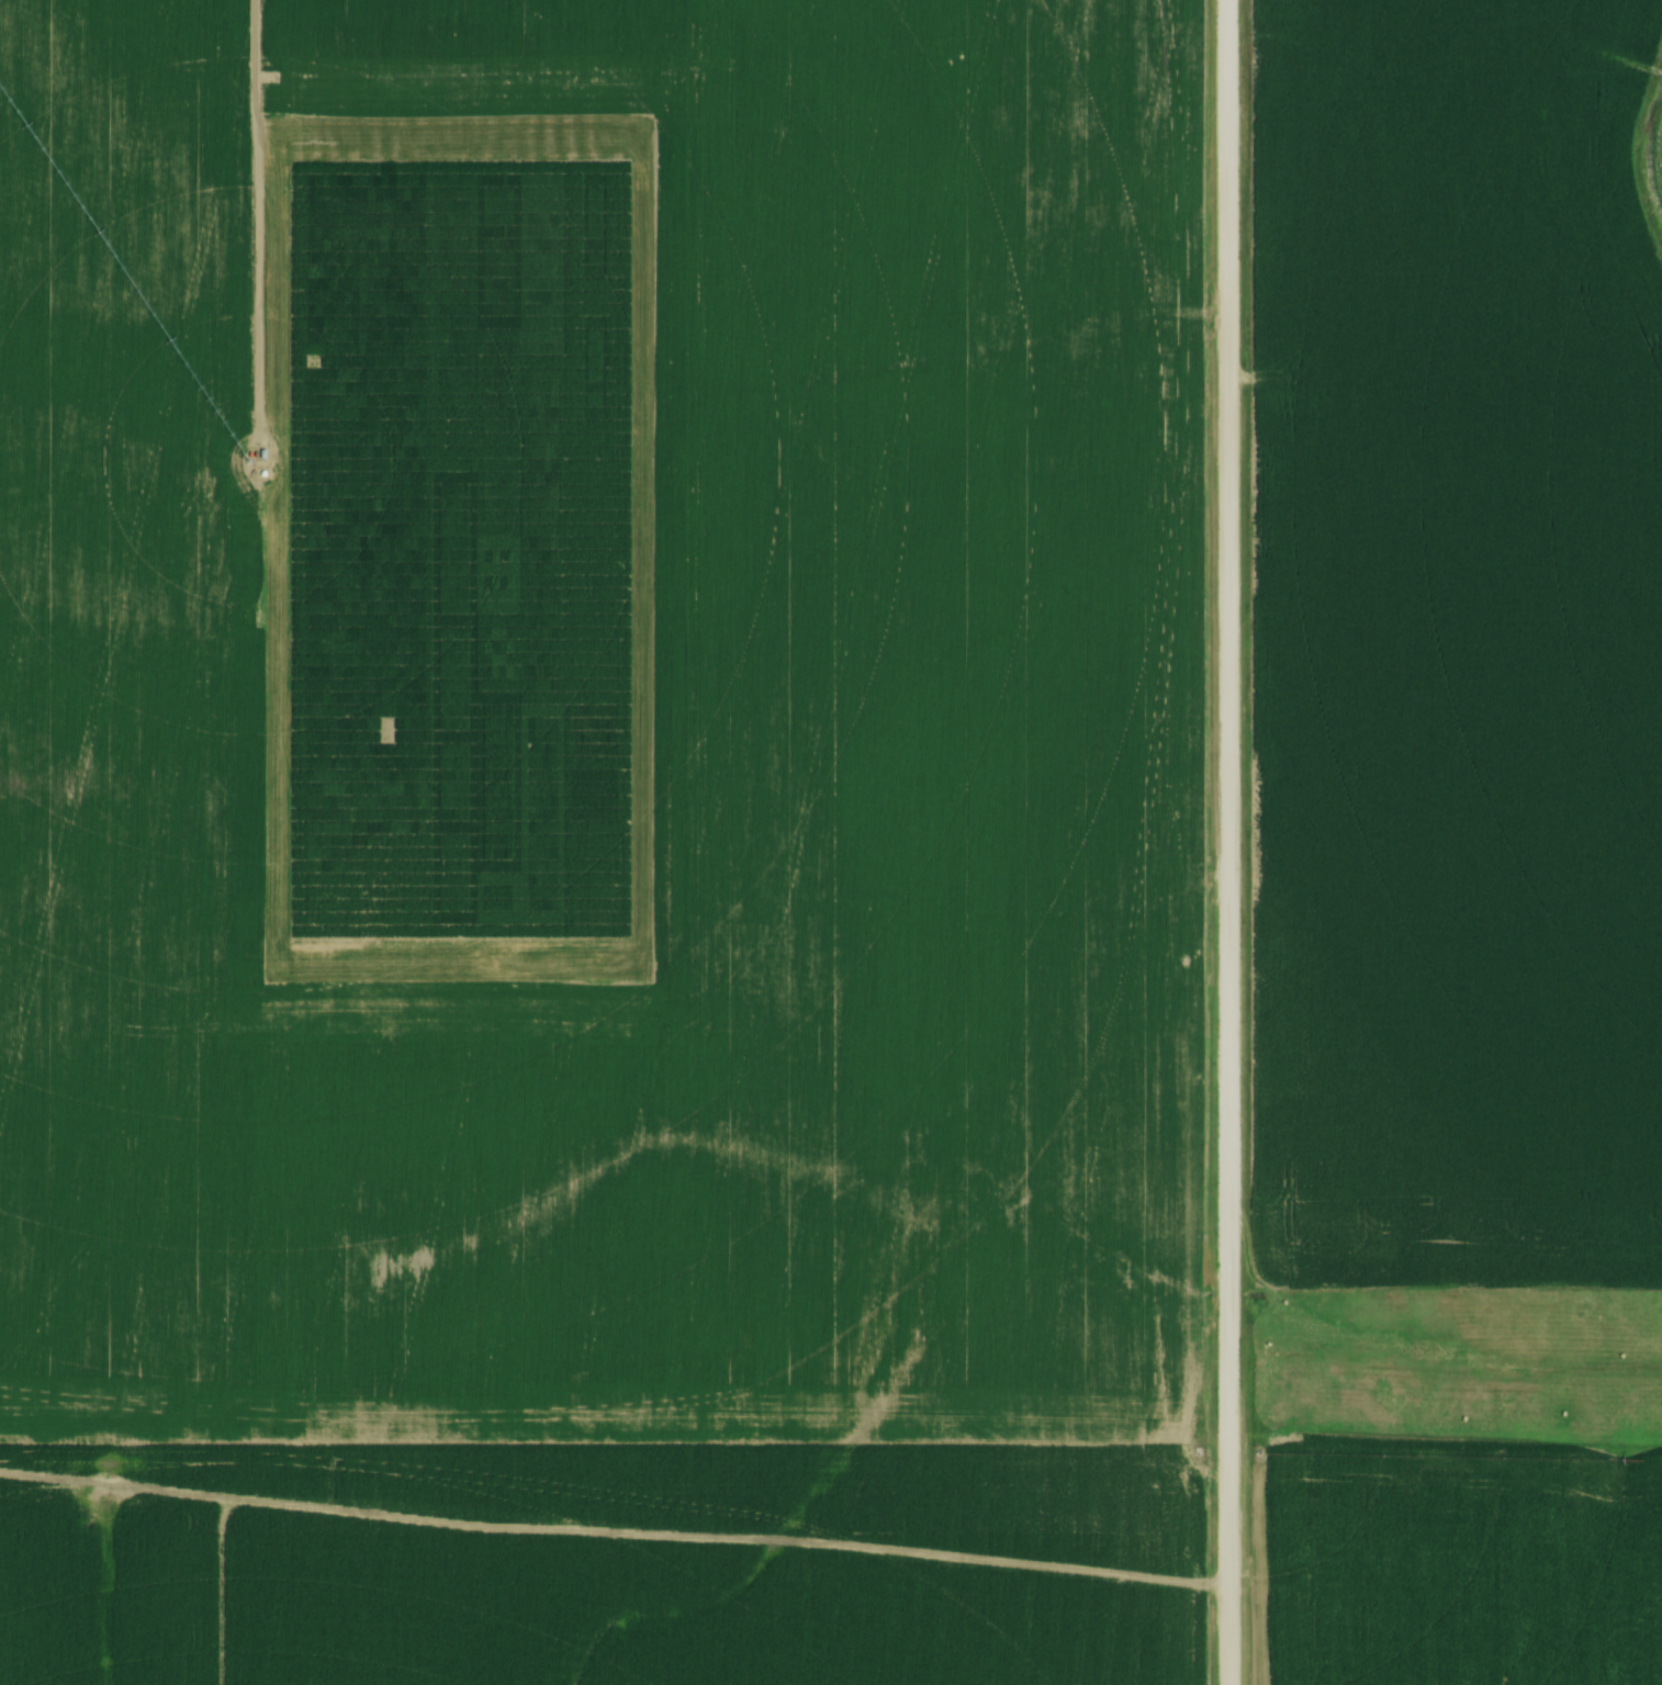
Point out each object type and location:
road: (1229, 842)

